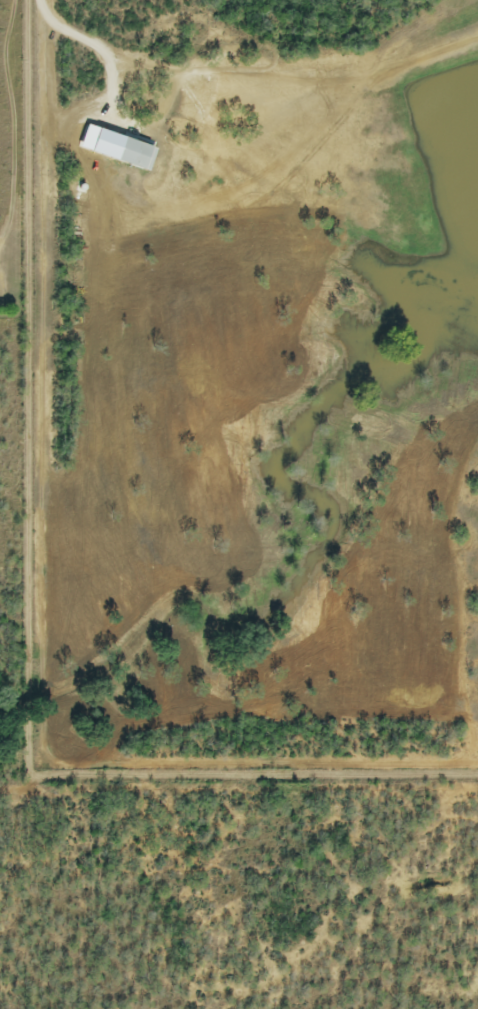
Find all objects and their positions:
road: (100, 45)
road: (15, 122)

